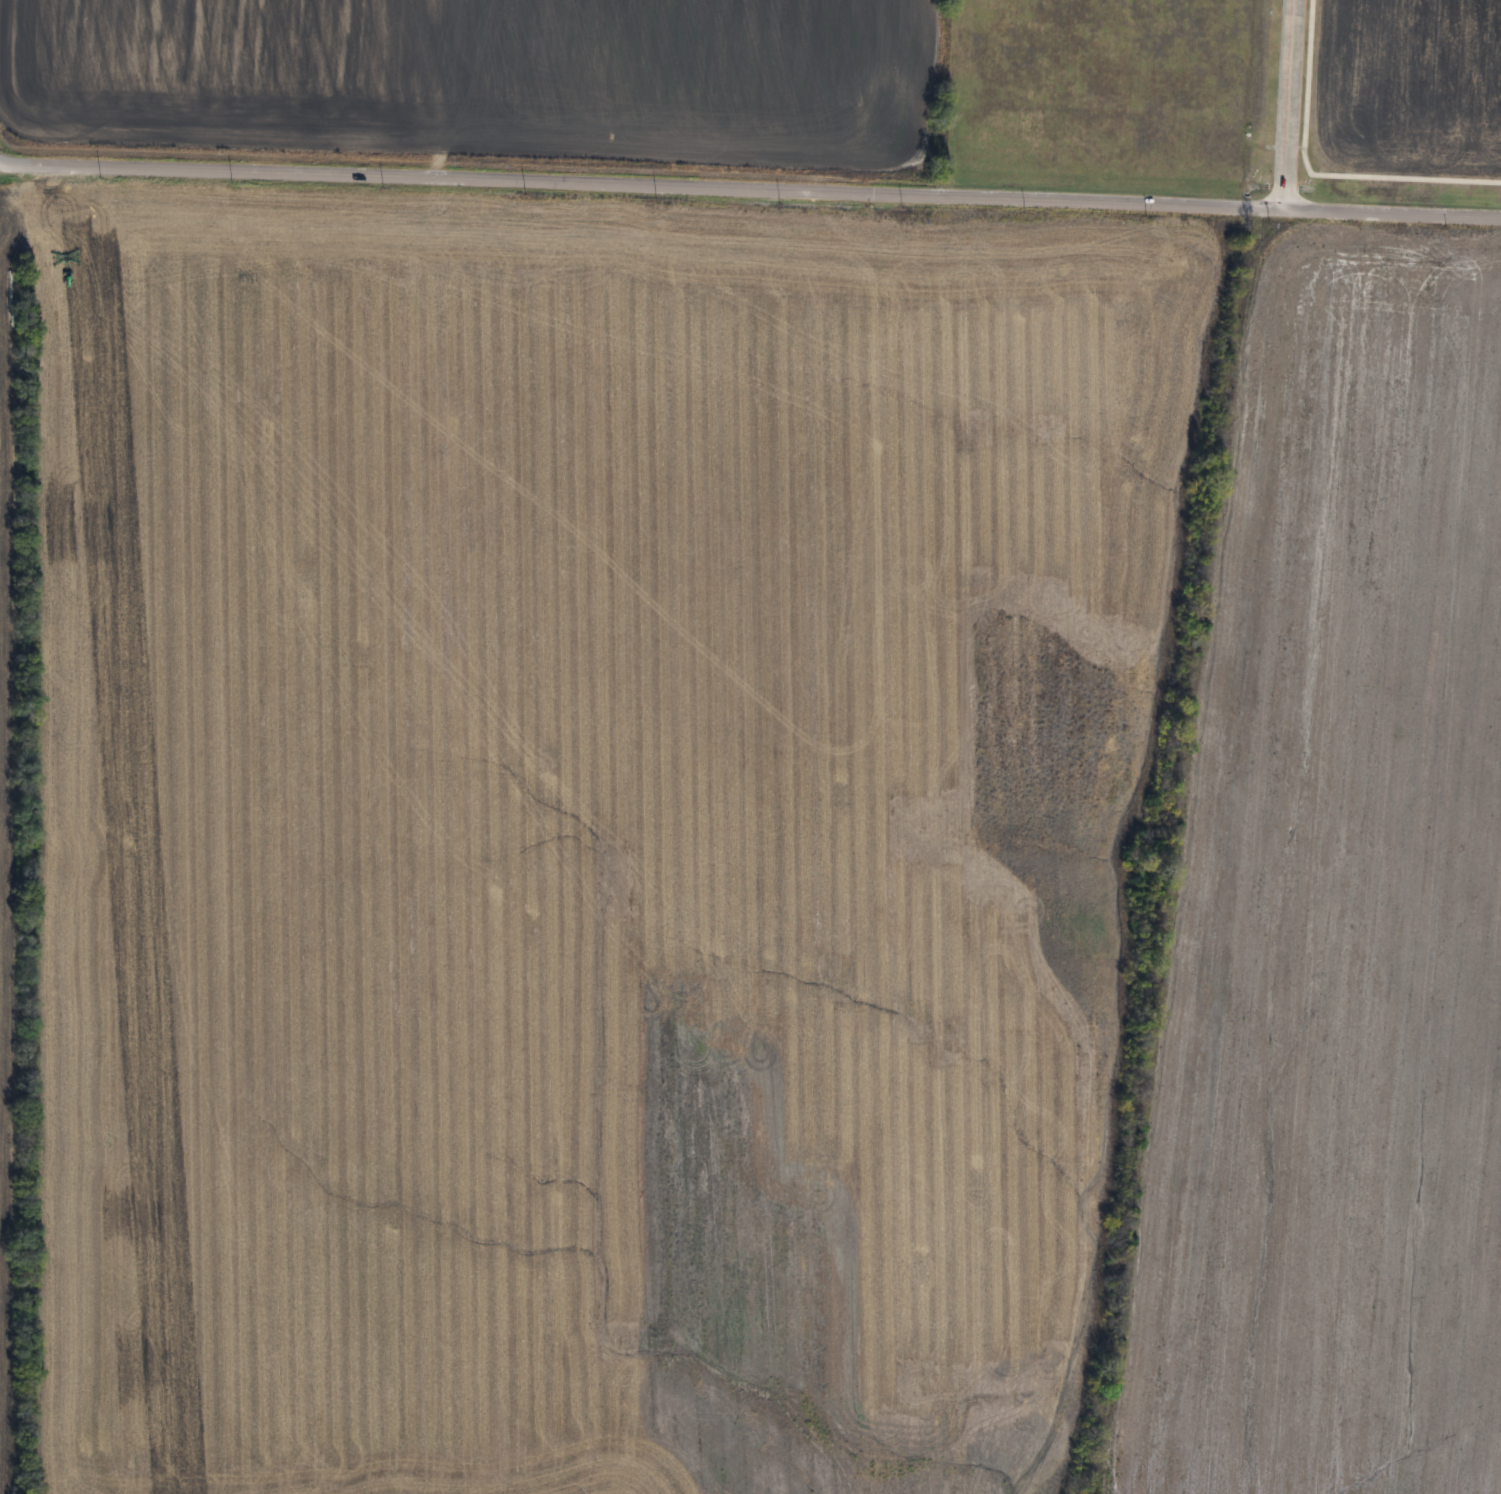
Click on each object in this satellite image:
road: (1285, 105)
road: (750, 189)

